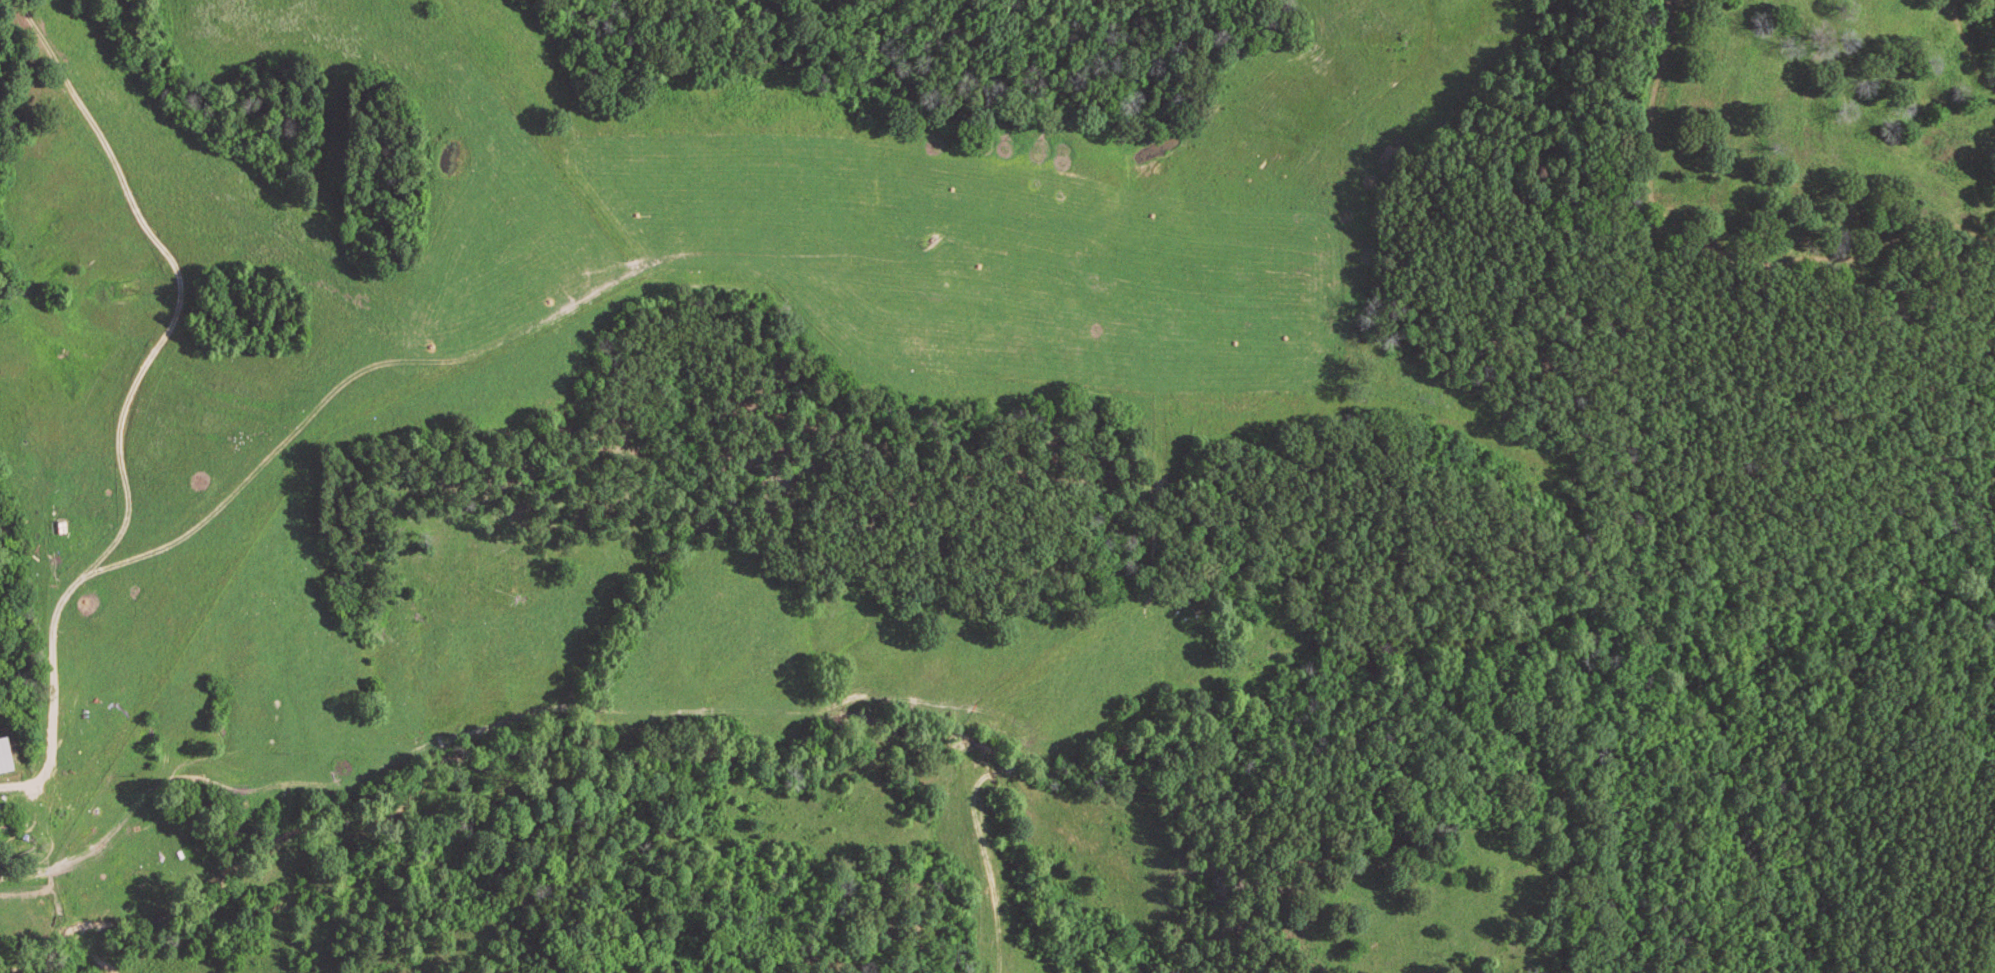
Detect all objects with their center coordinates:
road: (130, 399)

